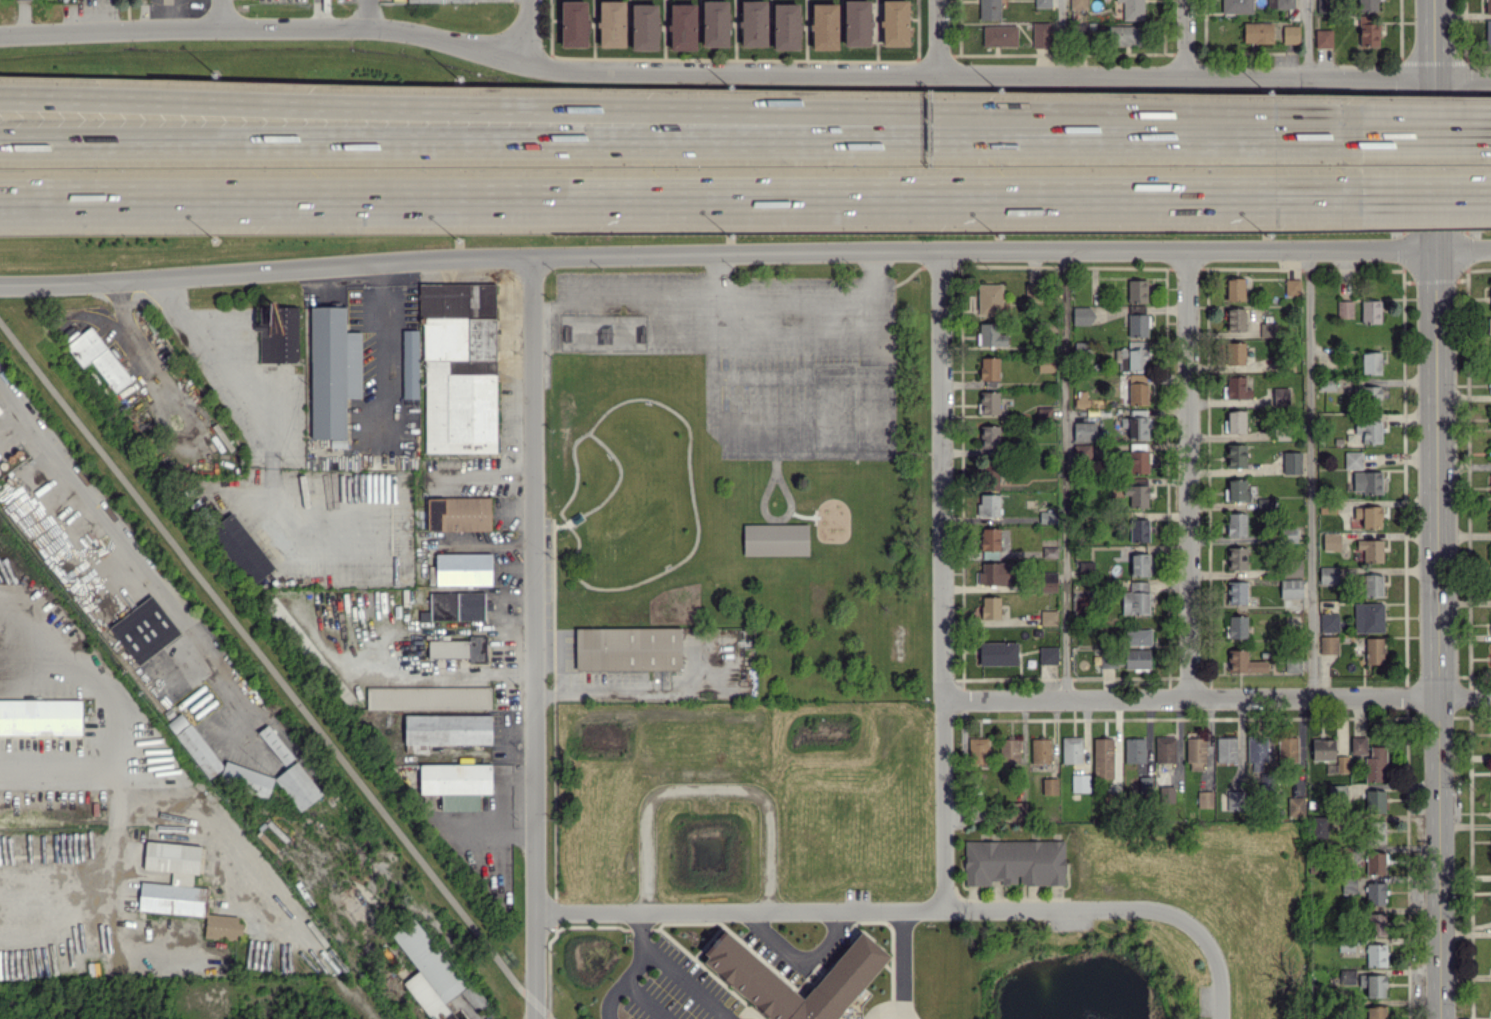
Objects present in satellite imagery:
building: (456, 0)
building: (1043, 3)
building: (1280, 3)
building: (1078, 4)
building: (1324, 5)
building: (1368, 5)
building: (1237, 6)
building: (1488, 6)
building: (989, 9)
building: (1132, 9)
road: (220, 13)
building: (894, 22)
building: (574, 23)
building: (611, 23)
building: (715, 23)
building: (753, 23)
building: (857, 23)
building: (644, 26)
building: (682, 26)
building: (786, 26)
building: (824, 26)
road: (280, 28)
building: (1368, 30)
road: (525, 31)
building: (1257, 32)
building: (1040, 34)
building: (1290, 34)
building: (999, 35)
building: (1122, 35)
building: (1488, 35)
building: (1323, 38)
road: (940, 39)
road: (1184, 39)
road: (1052, 40)
road: (1303, 41)
road: (1023, 79)
road: (546, 108)
road: (1225, 131)
road: (1425, 131)
road: (545, 141)
road: (1431, 194)
road: (685, 199)
road: (744, 252)
road: (873, 275)
road: (718, 278)
building: (1292, 286)
building: (1234, 289)
building: (1136, 290)
building: (1029, 292)
road: (118, 294)
building: (989, 299)
building: (1489, 300)
road: (703, 303)
building: (1344, 309)
building: (1370, 311)
building: (1082, 315)
building: (1235, 319)
building: (1138, 325)
building: (1489, 325)
building: (1267, 329)
road: (131, 333)
building: (278, 333)
building: (991, 335)
parking lot: (754, 345)
building: (1235, 353)
building: (97, 358)
building: (1371, 362)
building: (410, 363)
building: (459, 366)
building: (989, 368)
building: (332, 370)
road: (826, 374)
building: (1237, 388)
building: (1137, 393)
building: (1281, 395)
building: (1371, 395)
building: (988, 402)
building: (0, 412)
building: (679, 415)
road: (265, 419)
building: (1235, 421)
building: (1135, 427)
building: (1368, 430)
building: (1084, 431)
road: (757, 434)
building: (989, 437)
road: (594, 442)
building: (1490, 453)
building: (1235, 455)
building: (1353, 460)
park: (747, 462)
building: (1138, 462)
building: (1291, 462)
building: (988, 470)
road: (1064, 473)
road: (1189, 473)
road: (1310, 473)
building: (1490, 479)
building: (1367, 482)
road: (69, 488)
building: (1237, 490)
building: (1137, 493)
building: (1265, 503)
building: (988, 505)
road: (763, 507)
road: (1439, 509)
building: (458, 514)
building: (1368, 516)
building: (1048, 517)
building: (1490, 518)
building: (1236, 524)
building: (1138, 530)
building: (1289, 534)
building: (775, 539)
building: (1331, 541)
building: (991, 543)
building: (241, 548)
building: (1370, 550)
building: (1049, 551)
building: (1490, 553)
road: (622, 555)
building: (1236, 558)
building: (1139, 564)
building: (1292, 568)
building: (463, 569)
building: (994, 573)
building: (1328, 575)
road: (941, 577)
building: (1049, 581)
building: (1372, 585)
building: (1291, 587)
building: (1236, 592)
building: (1135, 598)
building: (454, 606)
building: (988, 608)
building: (1048, 617)
building: (1368, 617)
building: (1328, 622)
building: (1237, 626)
building: (144, 629)
road: (533, 629)
building: (1138, 636)
building: (1328, 644)
building: (627, 648)
building: (459, 649)
building: (1374, 650)
building: (998, 653)
building: (1048, 654)
building: (1125, 659)
building: (1243, 662)
road: (266, 663)
road: (429, 664)
building: (1292, 665)
road: (560, 670)
road: (608, 692)
building: (428, 697)
road: (1216, 697)
building: (40, 717)
building: (447, 729)
road: (125, 730)
building: (275, 744)
building: (194, 745)
building: (1071, 749)
building: (1165, 749)
building: (1226, 749)
building: (1287, 749)
building: (1323, 749)
building: (977, 750)
building: (1009, 750)
building: (1040, 750)
building: (1134, 750)
building: (1256, 752)
building: (1195, 753)
building: (1103, 757)
building: (1370, 758)
building: (1342, 763)
building: (245, 779)
building: (1080, 783)
building: (456, 784)
building: (1049, 785)
building: (298, 786)
road: (705, 792)
building: (1165, 793)
building: (1204, 799)
building: (1234, 800)
building: (1375, 800)
building: (1295, 806)
building: (1017, 810)
road: (485, 819)
building: (1320, 826)
building: (1376, 831)
building: (1014, 862)
building: (1374, 863)
road: (105, 868)
building: (173, 880)
building: (1348, 884)
building: (1375, 893)
road: (915, 903)
road: (637, 922)
building: (1376, 924)
building: (222, 926)
road: (49, 932)
road: (795, 944)
building: (1376, 955)
road: (897, 960)
building: (428, 971)
road: (607, 976)
road: (683, 978)
building: (755, 982)
building: (1375, 985)
road: (648, 992)
building: (473, 996)
road: (535, 1011)
road: (542, 1011)
building: (1376, 1012)

